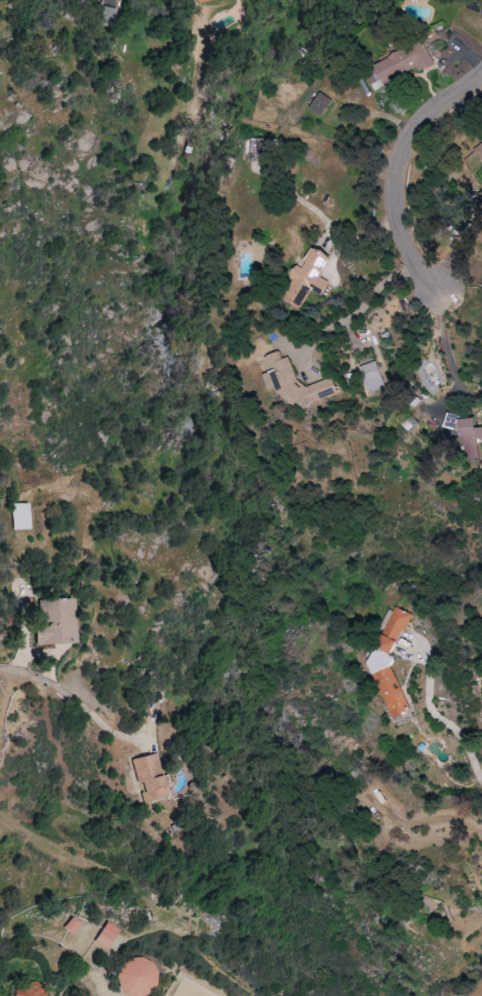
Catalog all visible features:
building: (65, 0)
building: (205, 0)
building: (396, 65)
building: (319, 104)
building: (478, 152)
road: (402, 173)
building: (306, 278)
road: (359, 310)
road: (447, 351)
building: (370, 377)
building: (295, 383)
building: (465, 434)
building: (20, 516)
building: (57, 621)
building: (393, 663)
road: (48, 682)
road: (434, 718)
building: (151, 778)
building: (107, 935)
building: (137, 977)
building: (33, 991)

